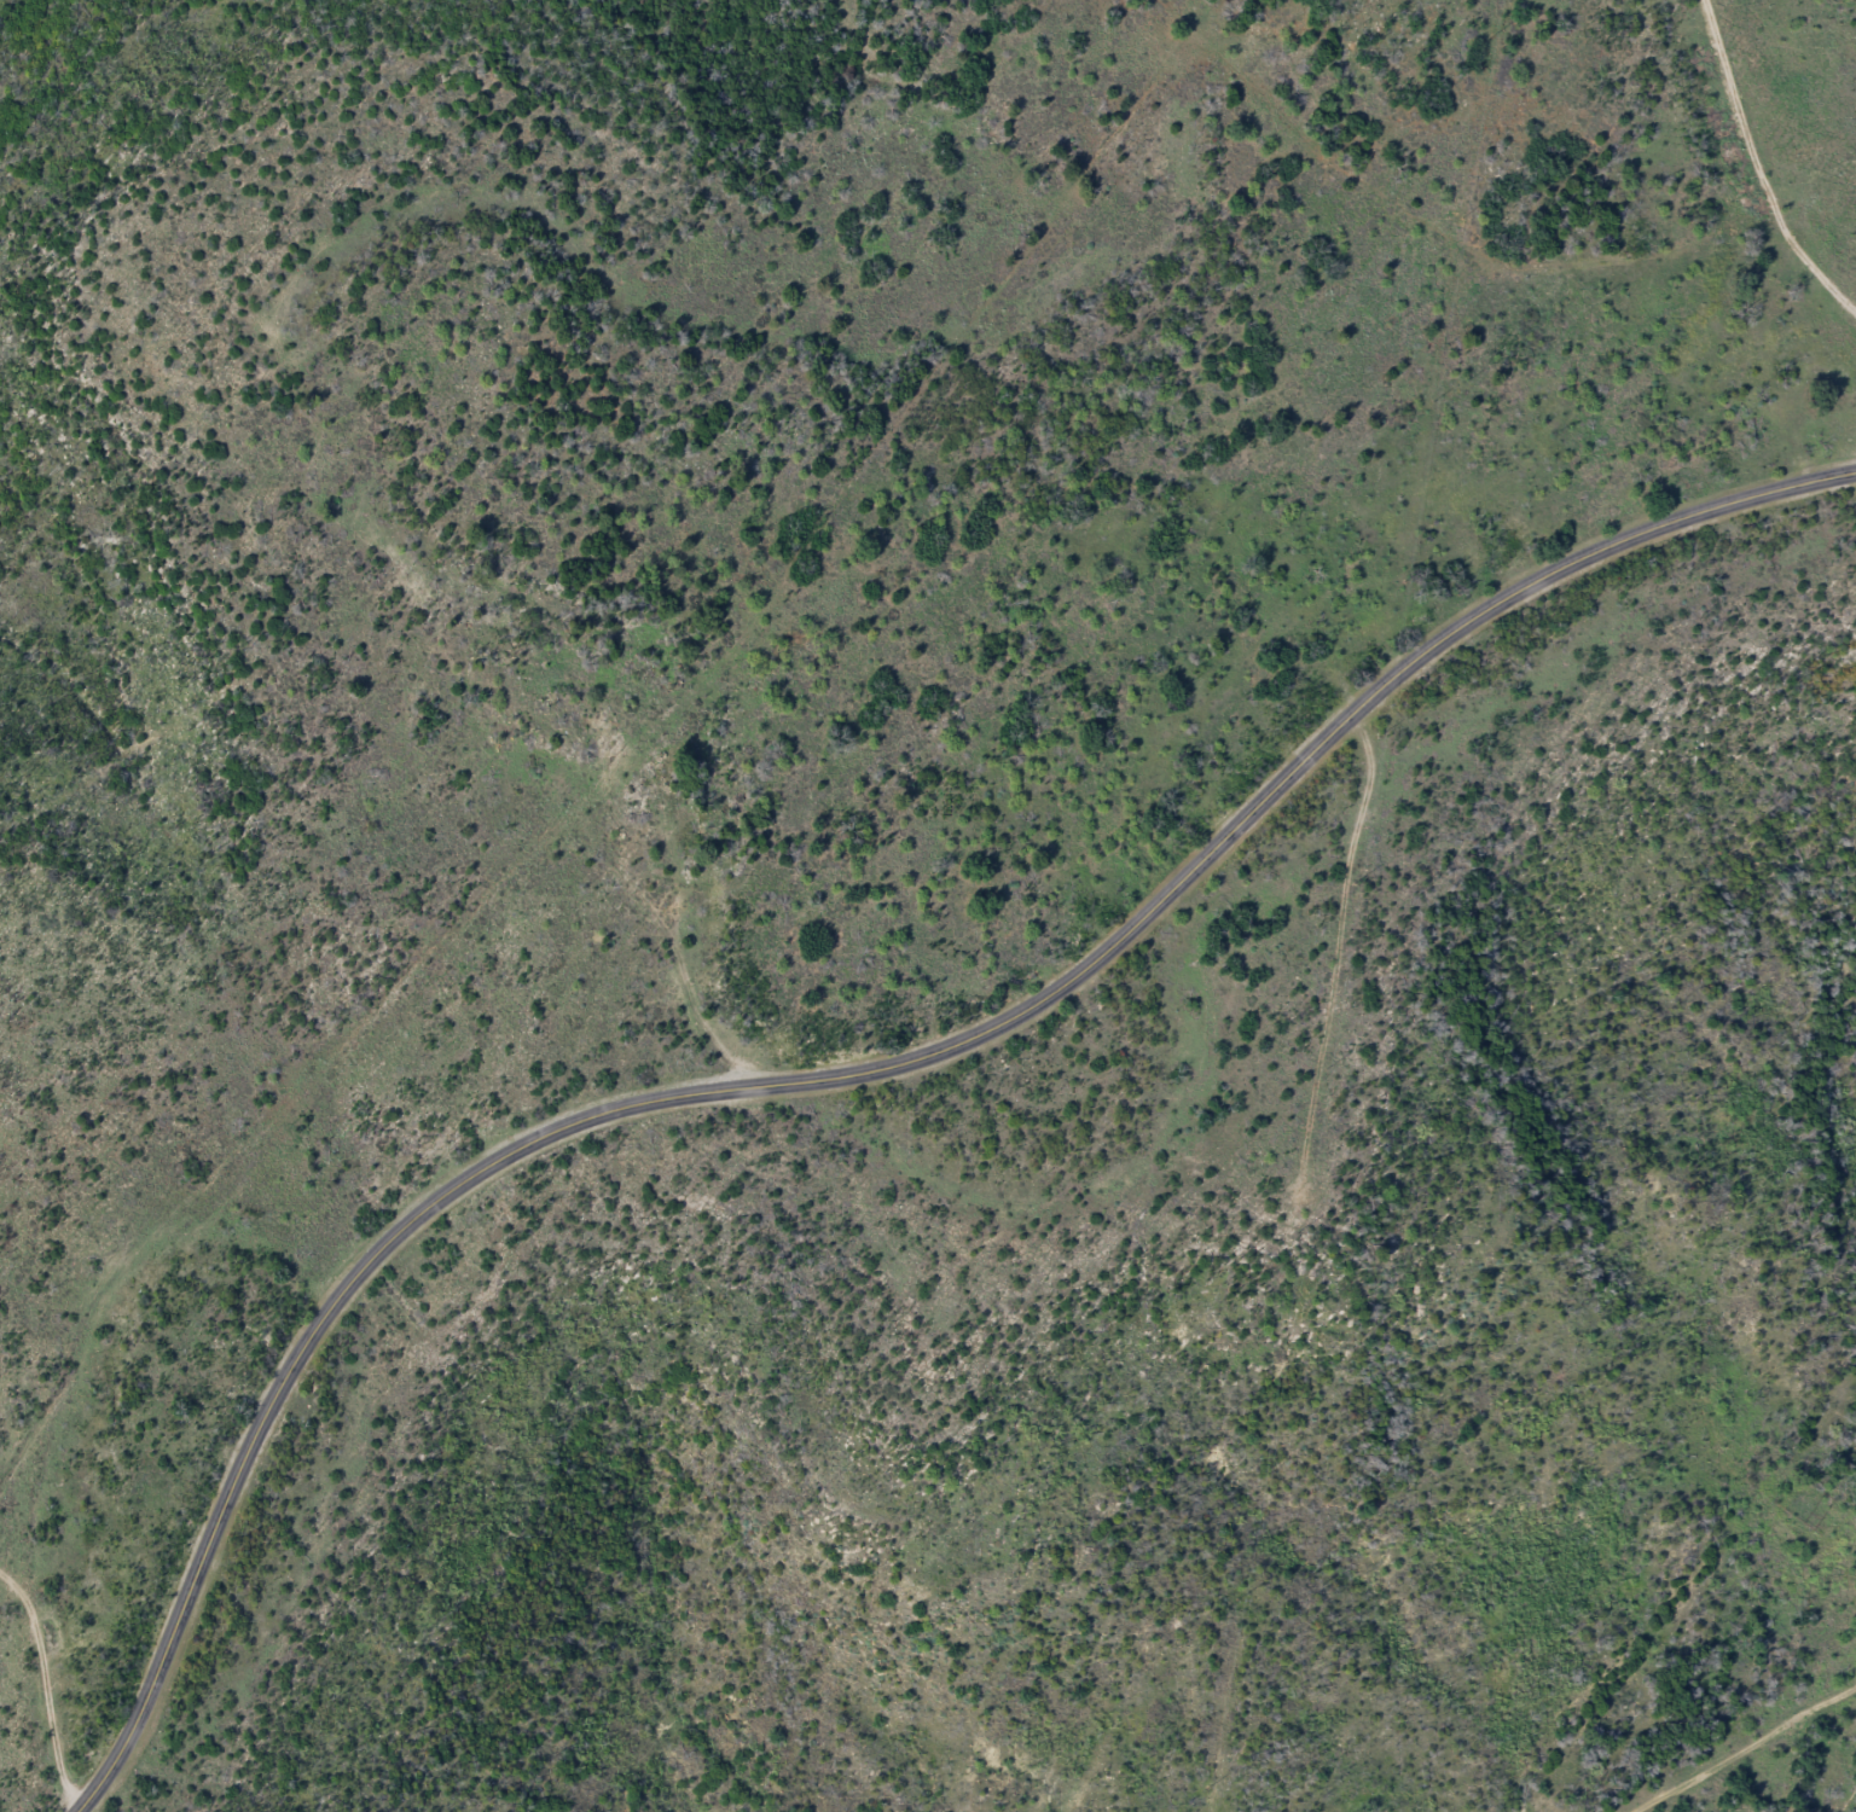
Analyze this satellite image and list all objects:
road: (1851, 157)
road: (1757, 165)
road: (1810, 175)
park: (920, 898)
road: (697, 949)
road: (871, 1073)
road: (52, 1679)
road: (1733, 1740)

